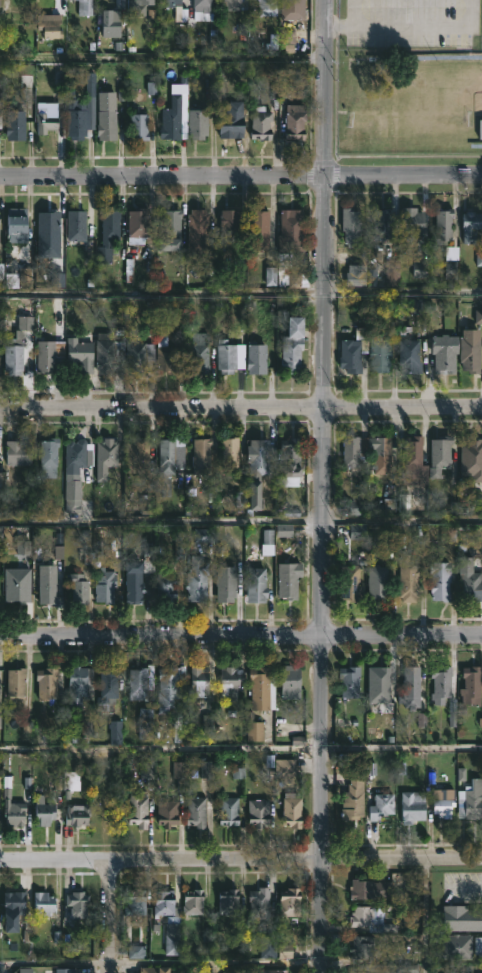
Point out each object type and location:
building: (0, 4)
building: (172, 4)
building: (204, 5)
building: (226, 6)
building: (85, 7)
building: (138, 7)
building: (266, 8)
building: (293, 10)
building: (110, 24)
road: (411, 24)
building: (49, 26)
building: (415, 56)
road: (163, 60)
building: (81, 111)
building: (174, 120)
building: (46, 121)
building: (0, 122)
building: (197, 125)
building: (261, 125)
building: (295, 125)
building: (16, 126)
building: (107, 126)
building: (230, 126)
building: (138, 127)
building: (480, 129)
building: (475, 145)
road: (240, 174)
building: (379, 222)
building: (16, 223)
building: (413, 223)
building: (76, 224)
building: (229, 224)
building: (441, 224)
building: (137, 225)
building: (171, 225)
building: (352, 225)
building: (470, 225)
building: (45, 228)
building: (260, 230)
building: (197, 231)
building: (292, 231)
building: (107, 234)
building: (451, 261)
building: (287, 271)
building: (355, 275)
road: (241, 294)
building: (292, 344)
building: (18, 345)
building: (471, 350)
building: (108, 352)
building: (445, 352)
building: (80, 353)
building: (200, 353)
building: (380, 354)
building: (167, 355)
building: (350, 355)
building: (45, 356)
building: (139, 356)
building: (230, 356)
building: (409, 356)
building: (258, 358)
road: (241, 405)
building: (367, 451)
building: (230, 452)
building: (18, 453)
building: (50, 453)
building: (78, 455)
building: (136, 455)
building: (200, 455)
building: (439, 455)
building: (104, 456)
building: (414, 459)
building: (290, 460)
building: (260, 461)
building: (167, 462)
building: (1, 478)
road: (324, 486)
building: (72, 495)
road: (241, 518)
building: (138, 575)
building: (409, 578)
building: (197, 579)
building: (289, 579)
building: (440, 580)
building: (378, 581)
building: (351, 582)
building: (225, 584)
building: (255, 584)
building: (105, 585)
building: (471, 585)
building: (51, 586)
building: (165, 587)
building: (78, 588)
road: (241, 635)
building: (141, 681)
building: (198, 682)
building: (291, 682)
building: (349, 682)
building: (46, 683)
building: (230, 683)
building: (15, 684)
building: (440, 684)
building: (471, 684)
building: (378, 685)
building: (78, 686)
building: (107, 686)
building: (412, 688)
building: (261, 689)
building: (168, 690)
building: (146, 723)
building: (254, 728)
building: (115, 731)
road: (240, 748)
building: (288, 768)
building: (70, 782)
building: (354, 798)
building: (470, 800)
building: (444, 802)
building: (380, 806)
building: (413, 806)
building: (138, 809)
building: (229, 809)
building: (292, 810)
building: (44, 812)
building: (195, 812)
building: (258, 812)
building: (14, 813)
building: (167, 813)
building: (77, 814)
road: (240, 857)
building: (369, 889)
building: (259, 900)
building: (134, 902)
building: (192, 902)
building: (228, 902)
building: (289, 902)
building: (14, 903)
building: (43, 903)
building: (78, 904)
building: (163, 904)
road: (111, 915)
road: (425, 915)
building: (461, 916)
building: (370, 919)
building: (172, 937)
building: (268, 946)
building: (478, 946)
building: (362, 949)
road: (161, 964)
building: (391, 967)
road: (215, 968)
road: (0, 969)
building: (64, 970)
building: (154, 970)
building: (273, 971)
building: (366, 972)

